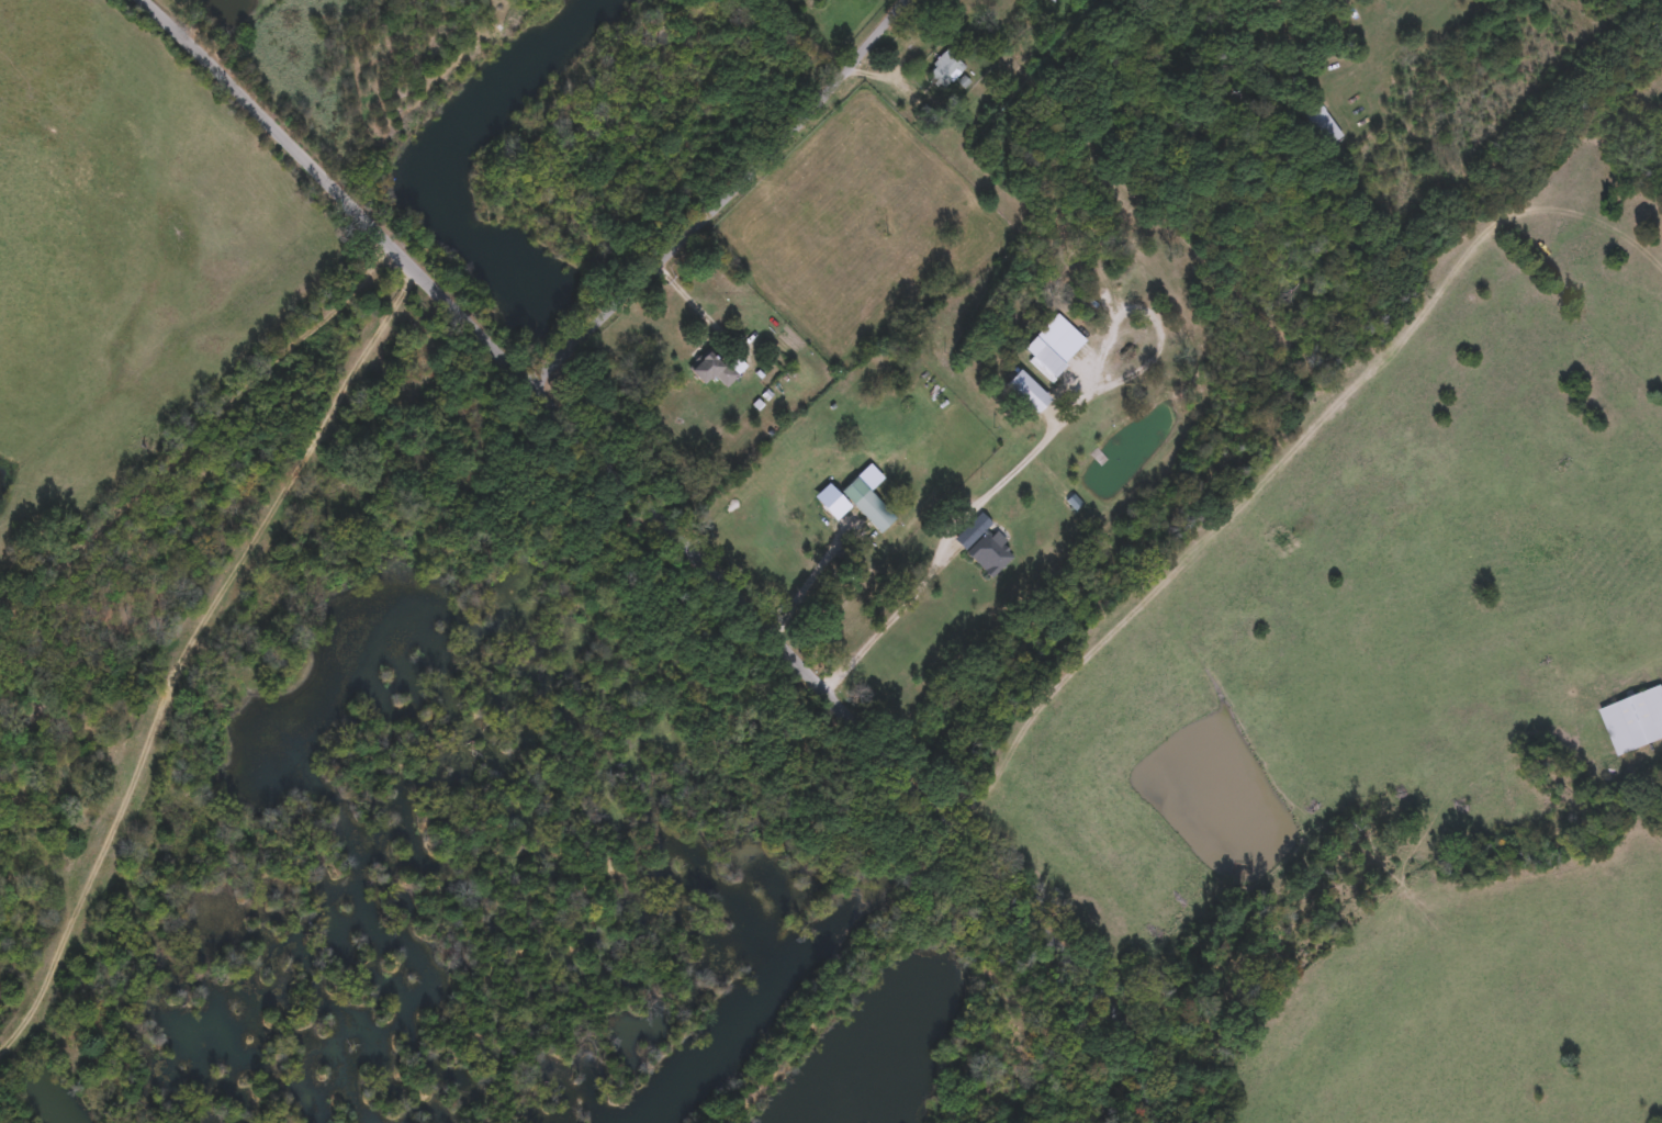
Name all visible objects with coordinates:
building: (1051, 0)
building: (944, 67)
building: (1322, 121)
road: (728, 195)
road: (699, 304)
building: (1046, 359)
building: (717, 367)
building: (1025, 390)
road: (200, 439)
building: (830, 491)
building: (872, 508)
road: (962, 514)
building: (972, 529)
road: (689, 539)
building: (991, 552)
road: (188, 649)
building: (1635, 718)

